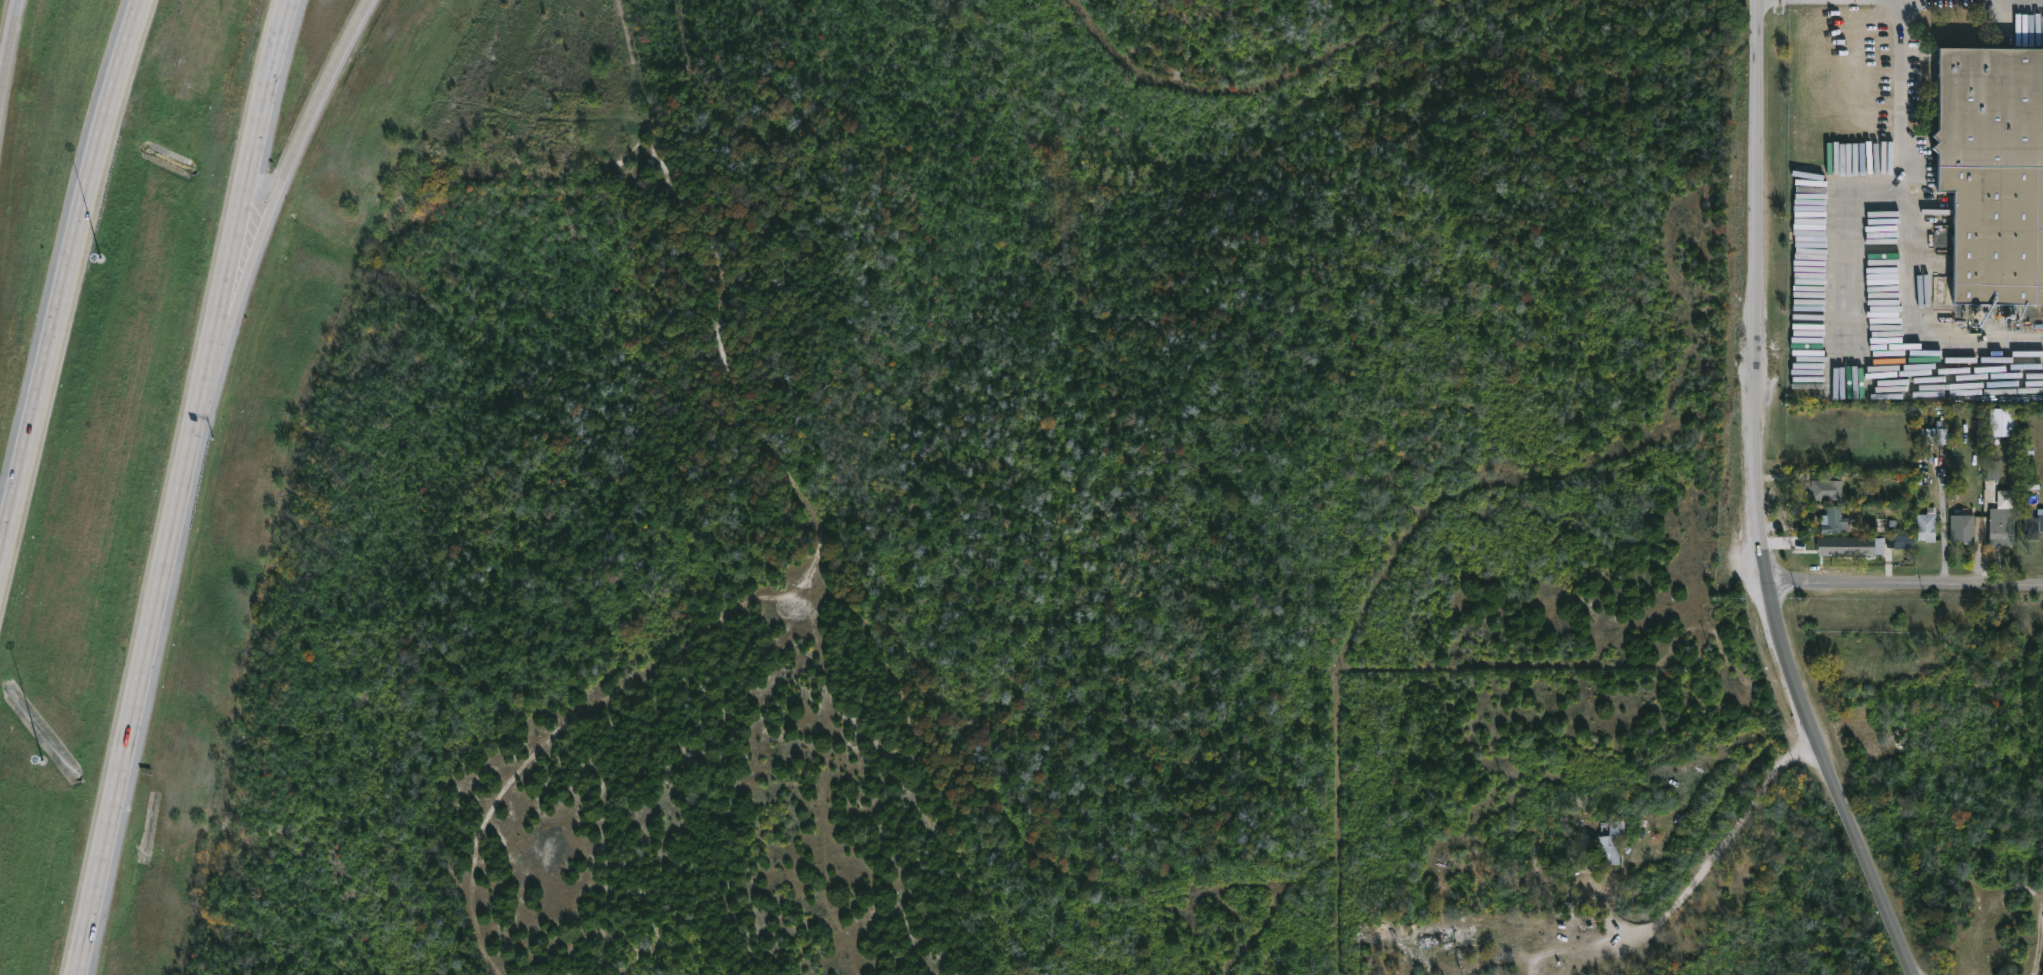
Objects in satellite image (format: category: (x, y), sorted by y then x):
road: (9, 44)
road: (321, 88)
road: (249, 155)
building: (1993, 171)
road: (1917, 235)
road: (249, 246)
street lamp: (101, 258)
road: (65, 276)
railway: (1986, 328)
building: (1936, 432)
building: (1993, 470)
building: (1827, 487)
road: (1761, 501)
road: (1944, 519)
building: (1834, 520)
building: (2033, 523)
building: (1927, 524)
building: (1964, 526)
building: (2000, 529)
building: (1903, 541)
building: (1850, 546)
road: (1904, 589)
road: (146, 644)
street lamp: (42, 760)
road: (1725, 839)
building: (1608, 844)
building: (1567, 864)

